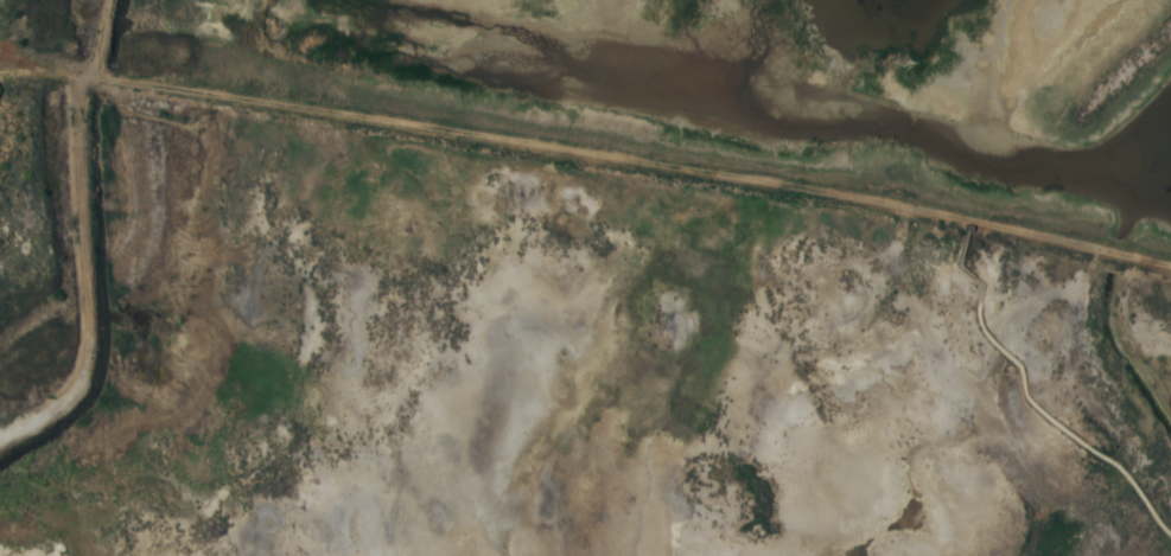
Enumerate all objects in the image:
road: (1027, 401)

